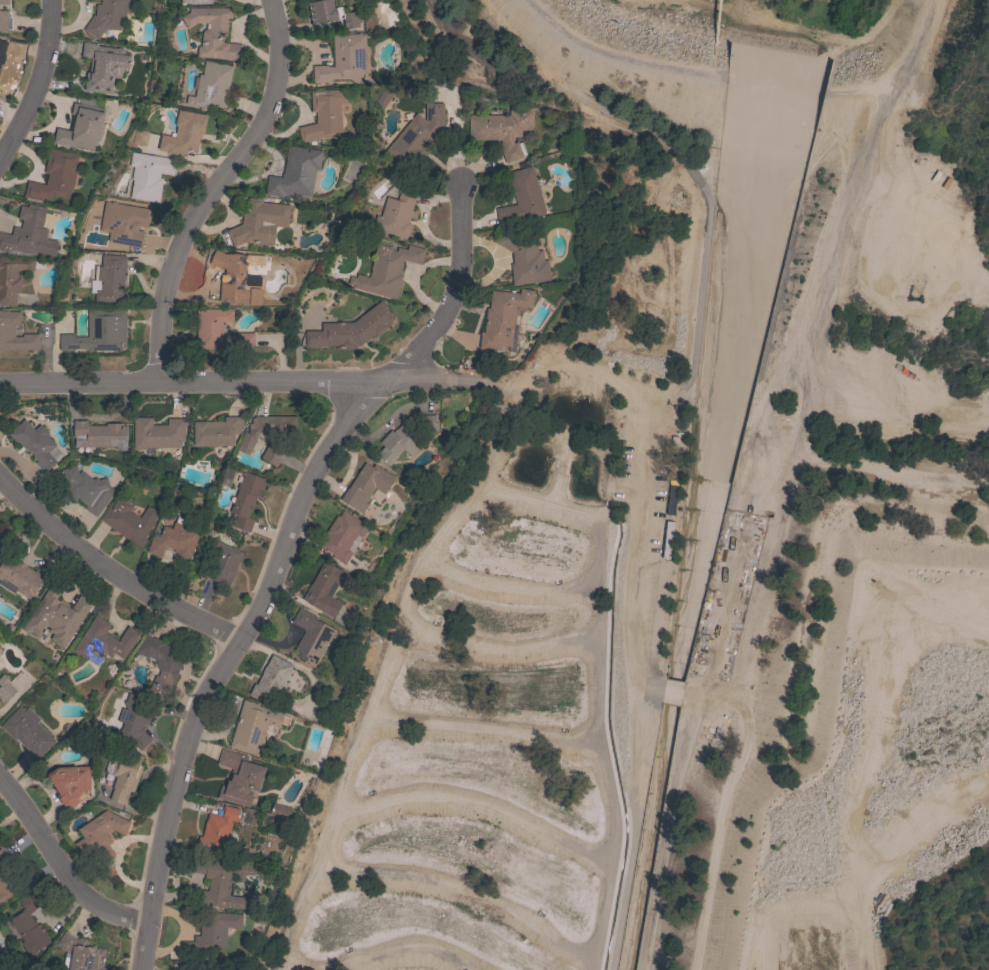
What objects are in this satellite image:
building: (3, 1)
building: (196, 2)
building: (331, 13)
building: (107, 19)
building: (3, 20)
building: (213, 33)
building: (3, 46)
building: (343, 59)
dam: (716, 64)
building: (103, 66)
road: (35, 80)
building: (213, 84)
building: (324, 115)
building: (82, 126)
building: (502, 130)
building: (179, 135)
building: (417, 135)
building: (137, 139)
road: (654, 141)
building: (295, 173)
building: (148, 175)
building: (54, 176)
road: (214, 188)
building: (521, 198)
building: (396, 212)
building: (259, 222)
building: (124, 223)
building: (30, 233)
building: (522, 257)
building: (386, 270)
building: (14, 276)
building: (238, 276)
building: (110, 279)
road: (452, 294)
building: (502, 317)
building: (7, 329)
building: (350, 330)
building: (219, 331)
building: (99, 332)
road: (809, 355)
road: (569, 366)
road: (224, 382)
building: (265, 429)
building: (216, 432)
building: (157, 433)
building: (97, 434)
building: (406, 436)
building: (36, 444)
building: (272, 454)
building: (366, 486)
building: (86, 489)
building: (246, 500)
building: (666, 502)
building: (129, 521)
building: (342, 536)
building: (175, 538)
building: (2, 539)
building: (221, 562)
road: (110, 570)
building: (22, 577)
building: (325, 589)
building: (63, 615)
building: (311, 636)
building: (103, 642)
building: (0, 651)
road: (222, 663)
building: (159, 664)
building: (270, 679)
road: (653, 679)
building: (5, 689)
road: (668, 689)
building: (133, 718)
building: (252, 726)
building: (27, 731)
building: (239, 777)
building: (122, 778)
building: (70, 783)
road: (728, 807)
building: (282, 810)
building: (218, 830)
road: (665, 830)
building: (100, 834)
road: (59, 866)
building: (7, 879)
building: (221, 881)
building: (29, 927)
building: (212, 931)
building: (80, 954)
building: (214, 967)

